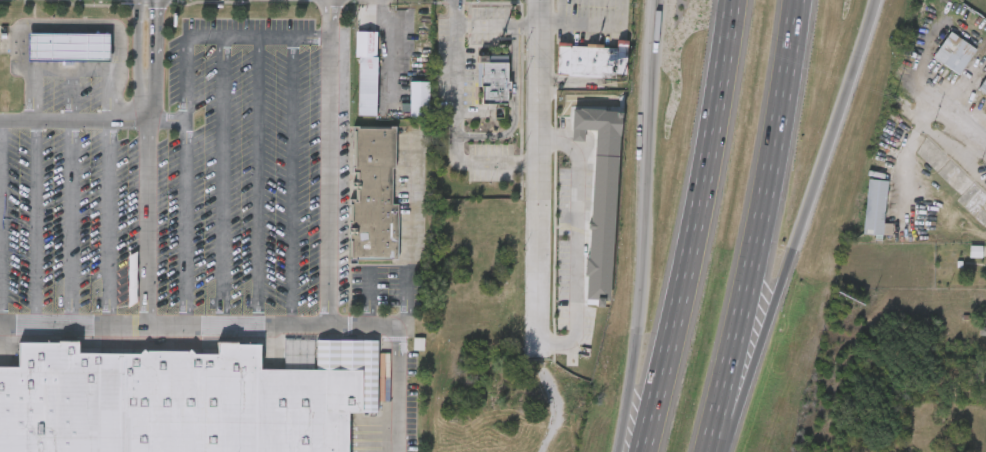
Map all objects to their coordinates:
road: (68, 24)
road: (497, 26)
road: (551, 26)
road: (592, 26)
road: (198, 38)
road: (391, 44)
building: (70, 45)
gas station: (70, 45)
building: (954, 53)
building: (589, 61)
road: (74, 69)
building: (366, 70)
building: (492, 81)
building: (983, 87)
road: (71, 95)
building: (420, 99)
road: (513, 106)
road: (148, 109)
road: (953, 115)
road: (455, 119)
road: (74, 122)
road: (327, 164)
road: (821, 167)
road: (223, 183)
road: (256, 183)
road: (291, 183)
building: (374, 193)
building: (598, 197)
road: (539, 204)
building: (875, 207)
road: (762, 209)
road: (148, 220)
road: (1, 222)
road: (35, 222)
road: (71, 223)
road: (108, 223)
road: (184, 226)
road: (646, 226)
road: (682, 227)
road: (408, 238)
road: (577, 245)
building: (975, 253)
building: (133, 279)
building: (364, 283)
road: (73, 324)
road: (334, 328)
building: (982, 332)
road: (740, 375)
building: (980, 376)
building: (186, 398)
road: (557, 424)
road: (713, 434)

